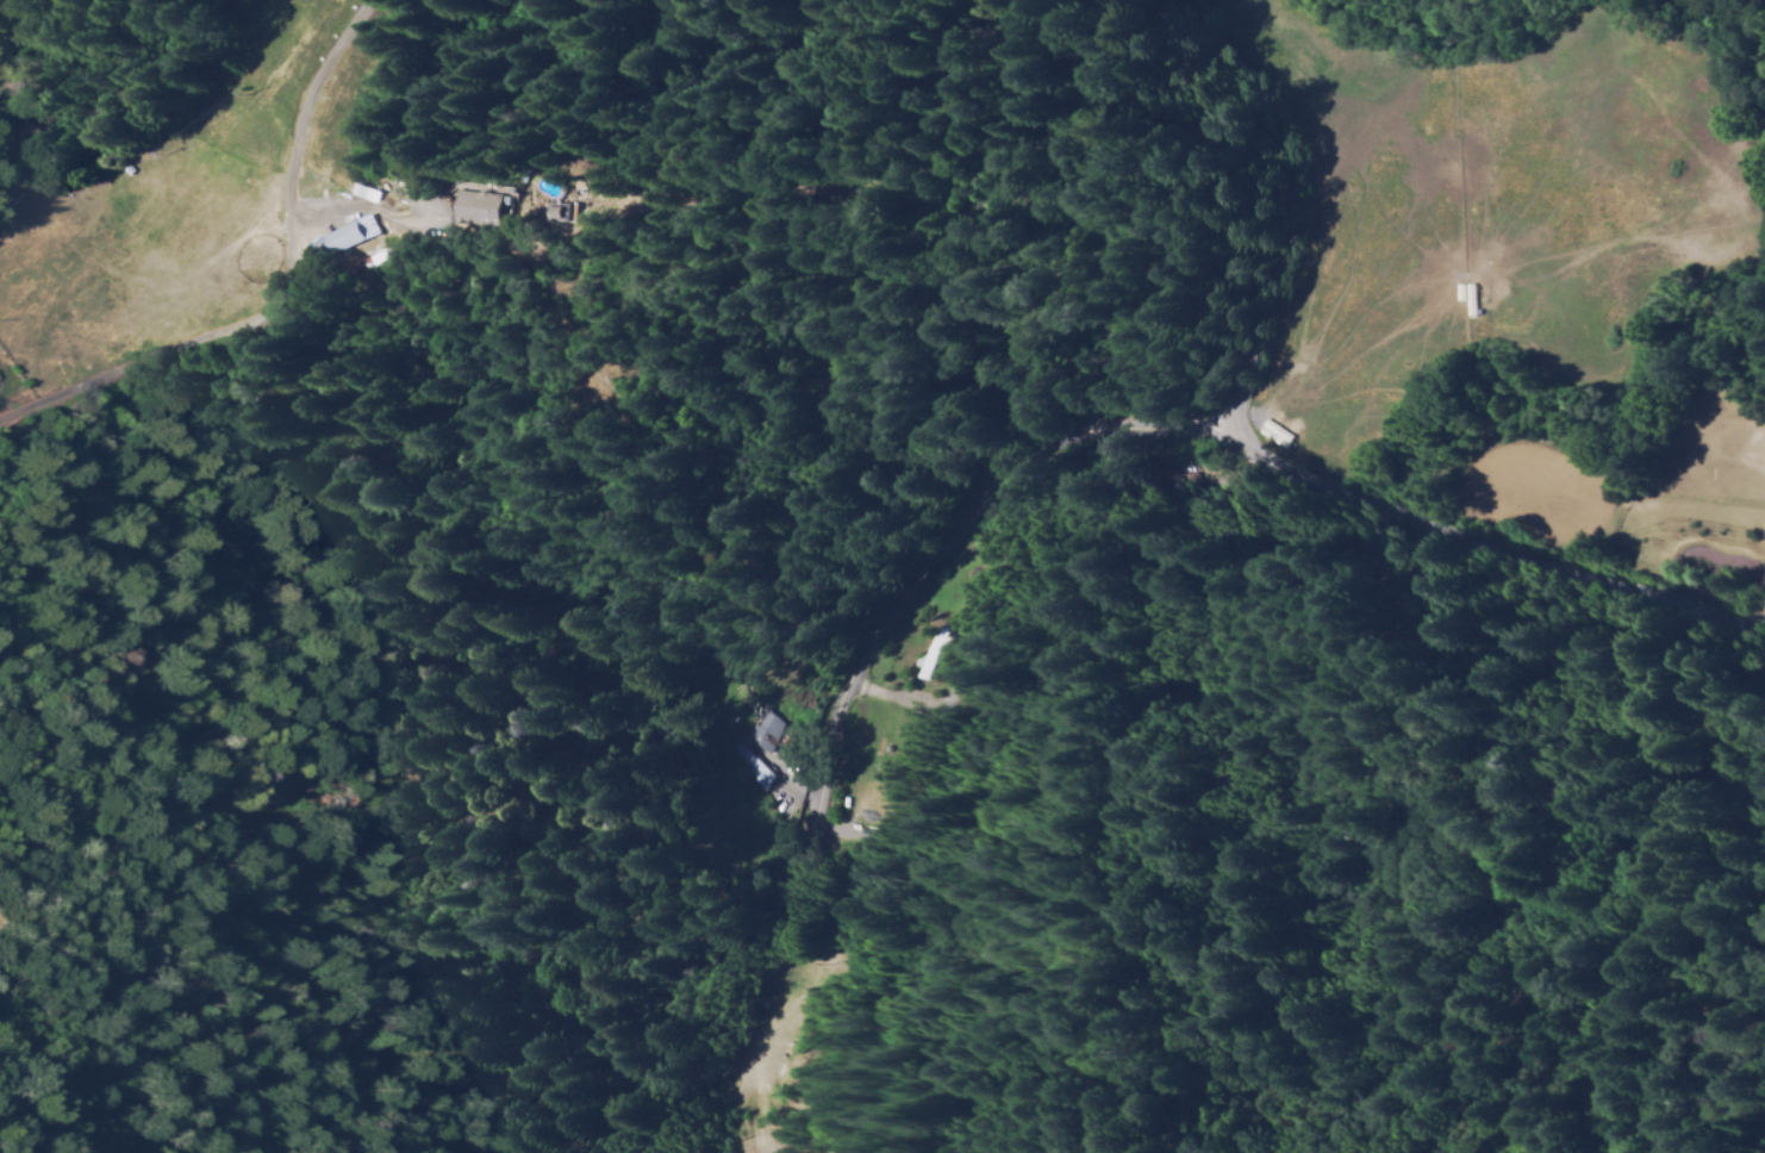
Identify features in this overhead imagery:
building: (405, 183)
building: (414, 186)
building: (489, 202)
building: (562, 212)
building: (341, 241)
building: (1272, 435)
road: (1262, 460)
building: (1167, 479)
building: (929, 654)
road: (843, 698)
building: (750, 731)
building: (732, 767)

